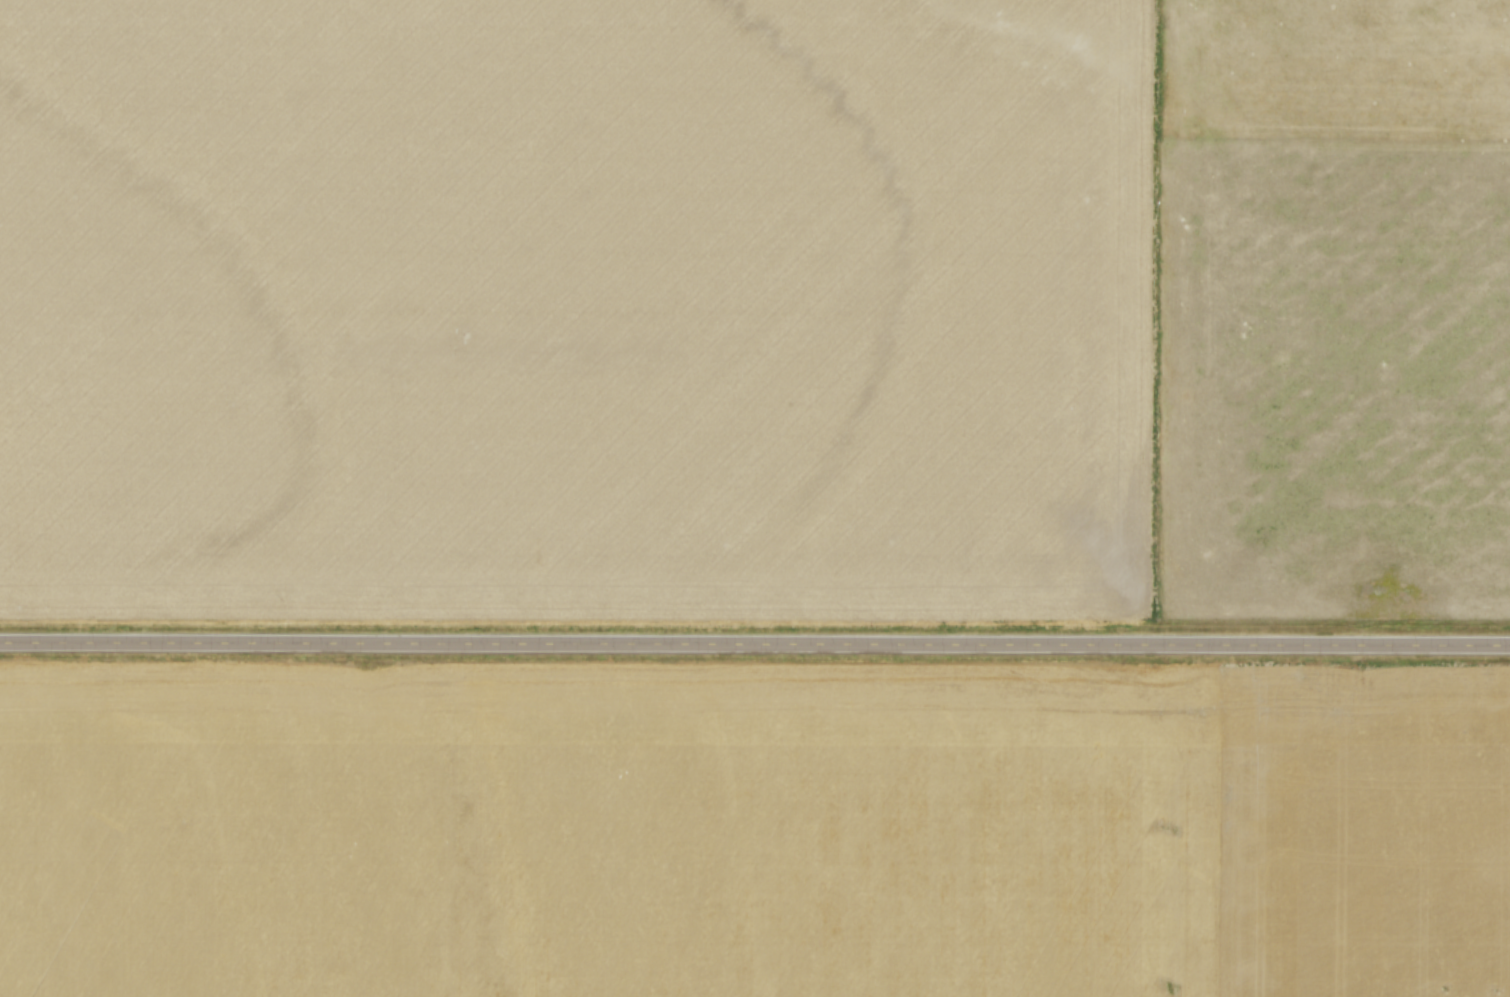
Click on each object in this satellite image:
crop: (624, 296)
building: (470, 639)
road: (755, 642)
crop: (750, 830)

